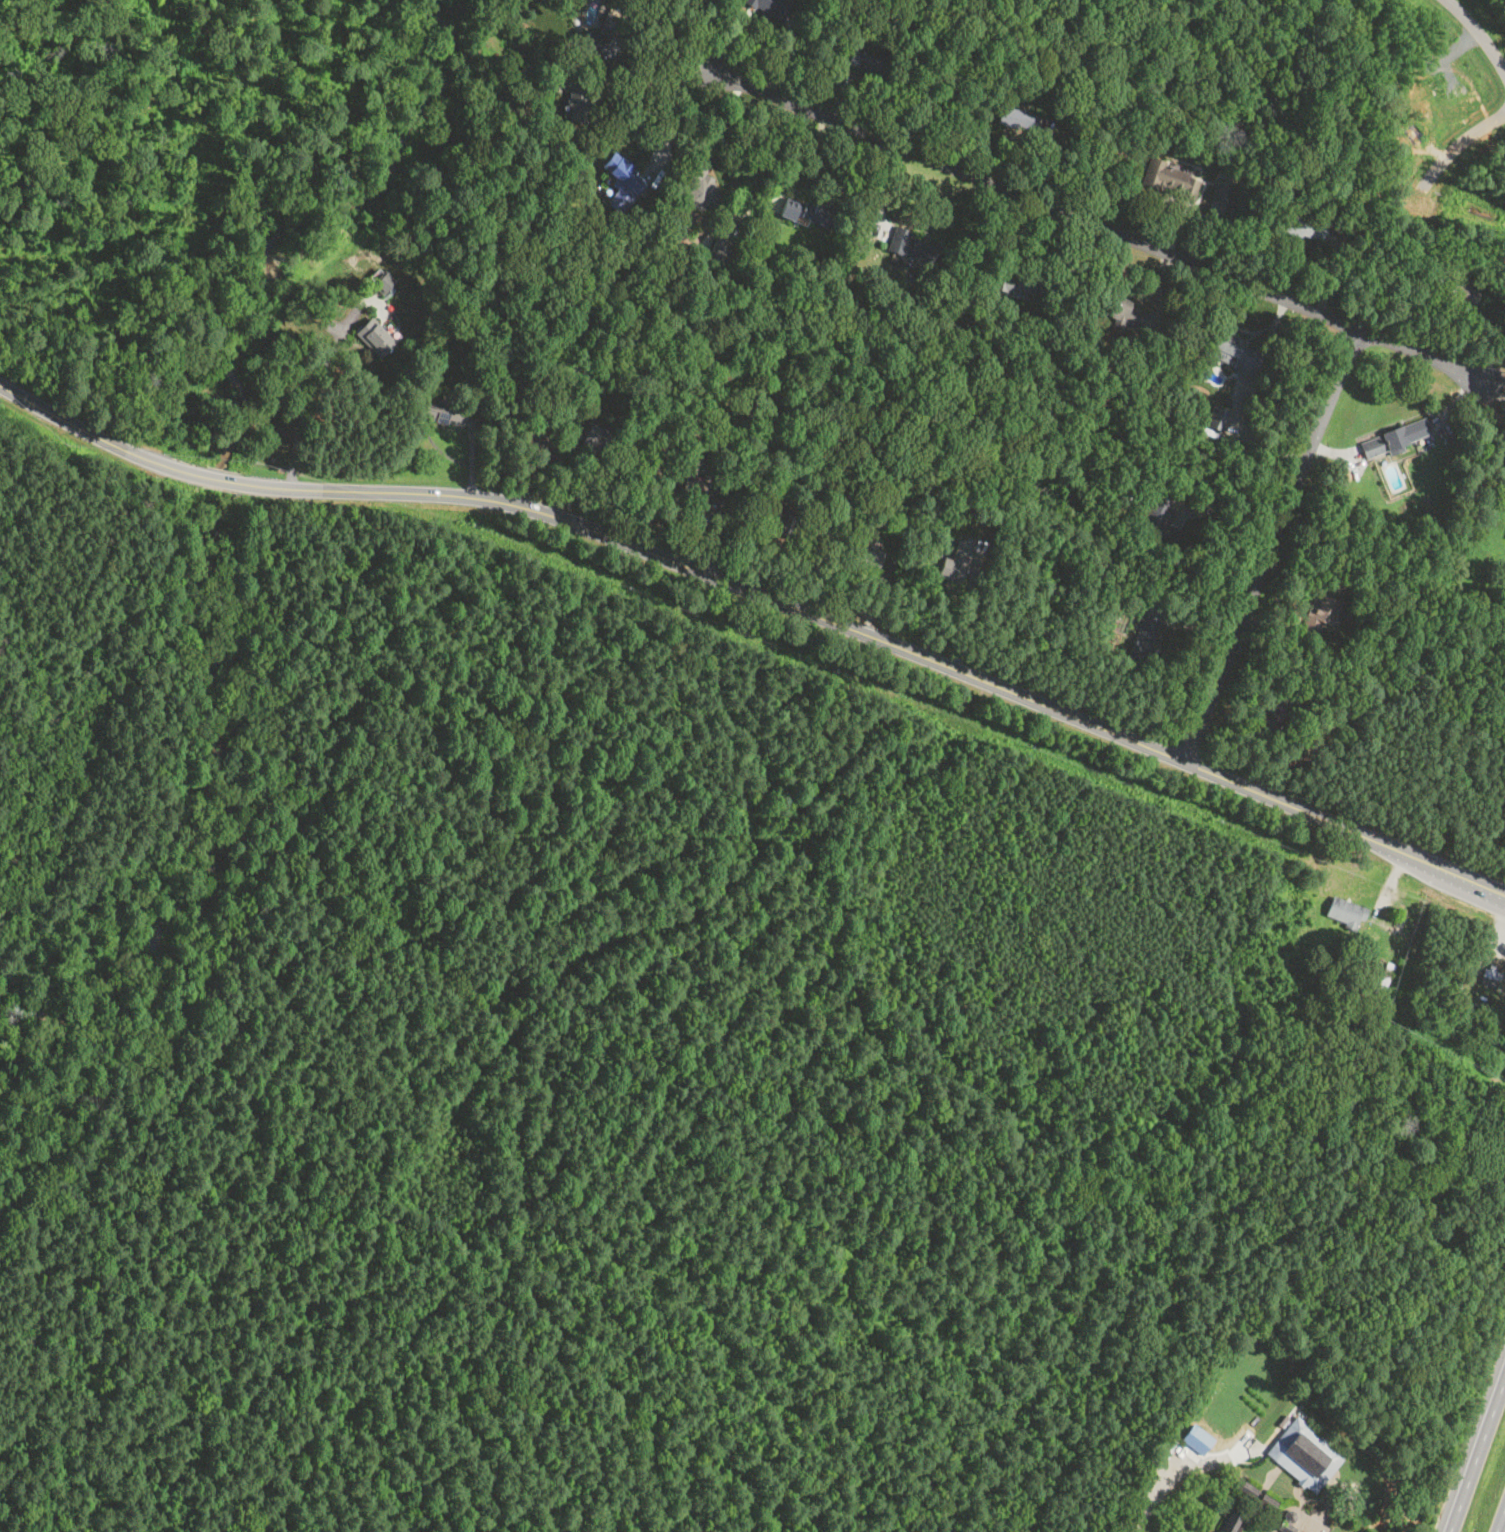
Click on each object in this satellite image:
building: (771, 7)
road: (1484, 30)
road: (680, 32)
building: (601, 38)
building: (867, 62)
road: (662, 89)
building: (580, 104)
road: (681, 112)
building: (1014, 117)
road: (1459, 142)
building: (1167, 180)
building: (621, 184)
building: (701, 186)
building: (1219, 194)
building: (777, 200)
building: (1215, 211)
building: (808, 212)
building: (879, 224)
road: (1100, 225)
building: (1299, 227)
building: (726, 237)
building: (912, 246)
building: (385, 284)
building: (1009, 286)
building: (1457, 295)
building: (1117, 310)
building: (375, 338)
building: (1232, 352)
road: (1497, 389)
building: (446, 411)
building: (1217, 417)
road: (299, 420)
building: (597, 438)
building: (1391, 439)
building: (545, 444)
building: (700, 491)
building: (778, 518)
building: (1157, 519)
road: (1270, 544)
building: (868, 555)
building: (955, 561)
road: (762, 594)
building: (1319, 612)
road: (966, 621)
building: (1144, 637)
building: (1346, 911)
road: (1376, 918)
road: (1499, 946)
building: (1493, 977)
parking lot: (1212, 1430)
road: (1276, 1432)
building: (1304, 1452)
road: (1477, 1455)
road: (1185, 1467)
building: (1247, 1487)
road: (1298, 1491)
road: (1256, 1496)
road: (1310, 1498)
building: (1266, 1500)
road: (1289, 1505)
road: (1500, 1519)
building: (1231, 1521)
road: (1249, 1521)
building: (1289, 1521)
building: (1177, 1528)
road: (1307, 1529)

